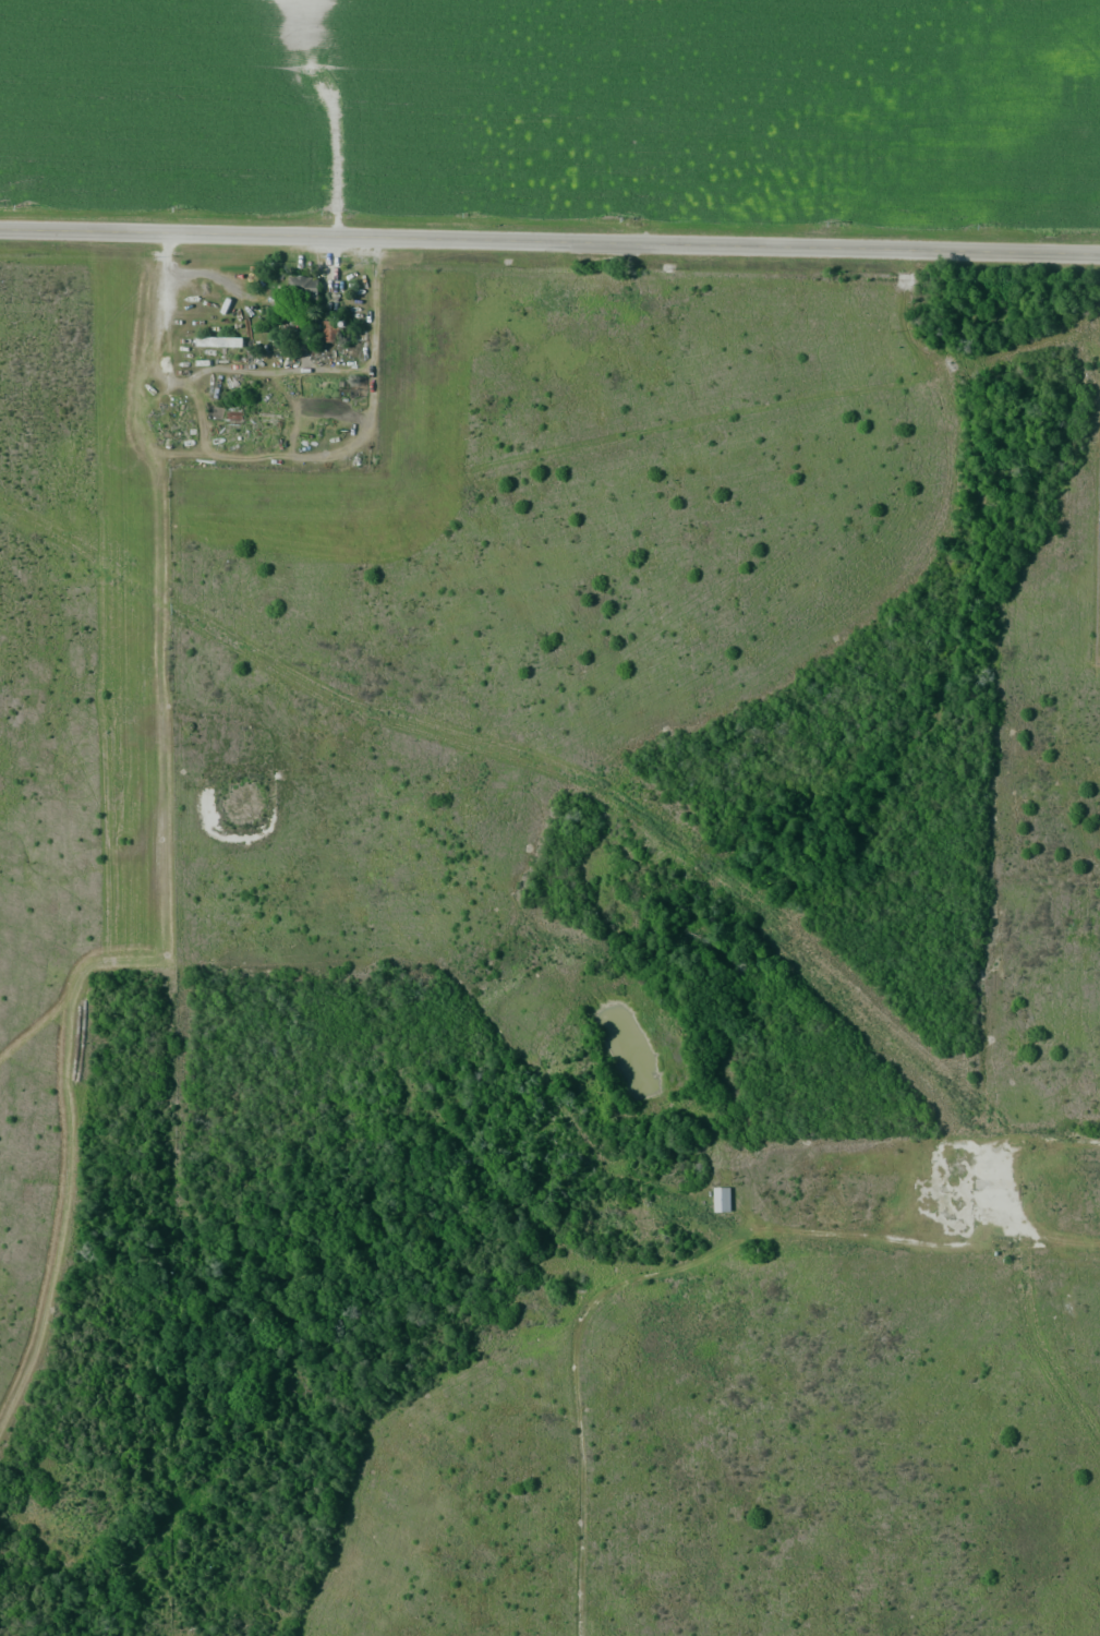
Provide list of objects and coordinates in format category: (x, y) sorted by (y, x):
road: (549, 244)
building: (301, 288)
building: (331, 332)
building: (216, 342)
road: (265, 370)
building: (720, 1201)
road: (678, 1263)

